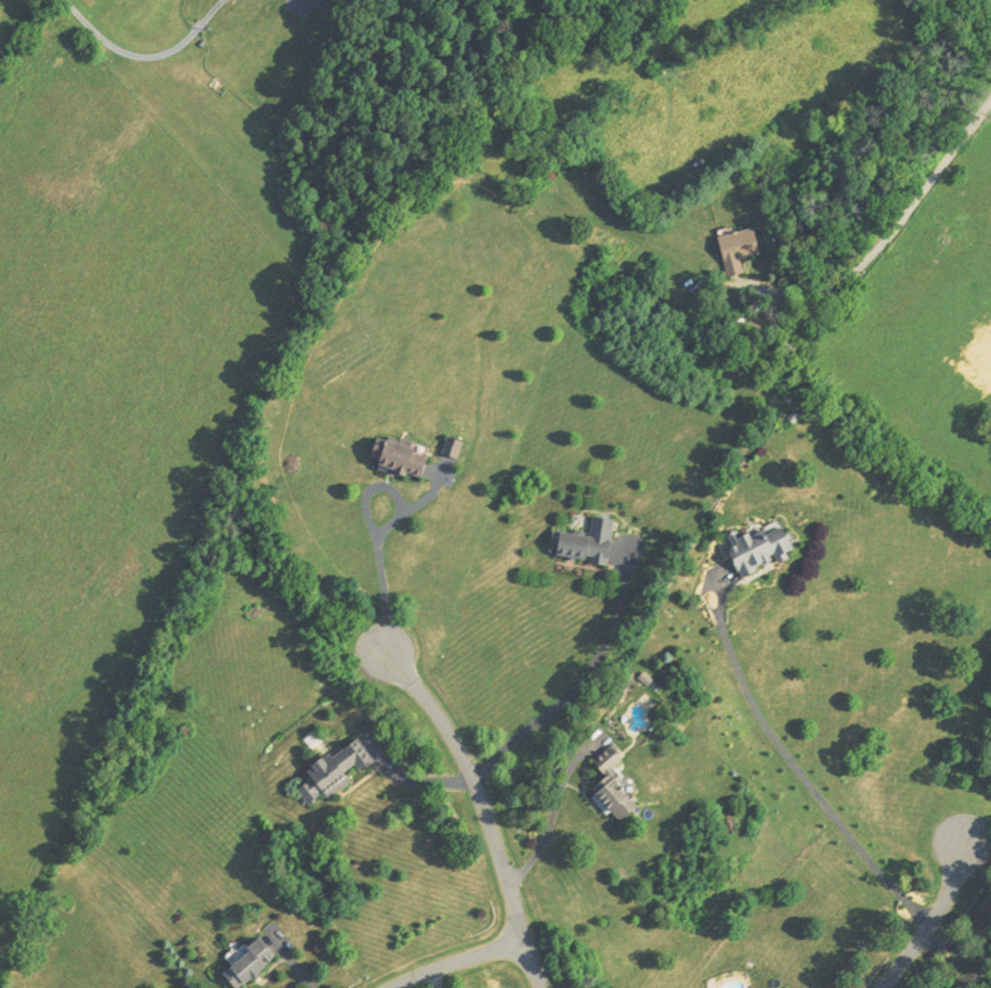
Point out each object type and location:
road: (144, 59)
building: (733, 253)
road: (869, 254)
building: (448, 448)
building: (394, 460)
building: (582, 543)
building: (755, 548)
road: (381, 579)
road: (578, 682)
road: (795, 768)
building: (330, 774)
road: (412, 780)
building: (609, 787)
road: (485, 809)
road: (547, 823)
road: (977, 841)
road: (935, 921)
road: (957, 949)
road: (459, 961)
building: (243, 965)
road: (436, 979)

